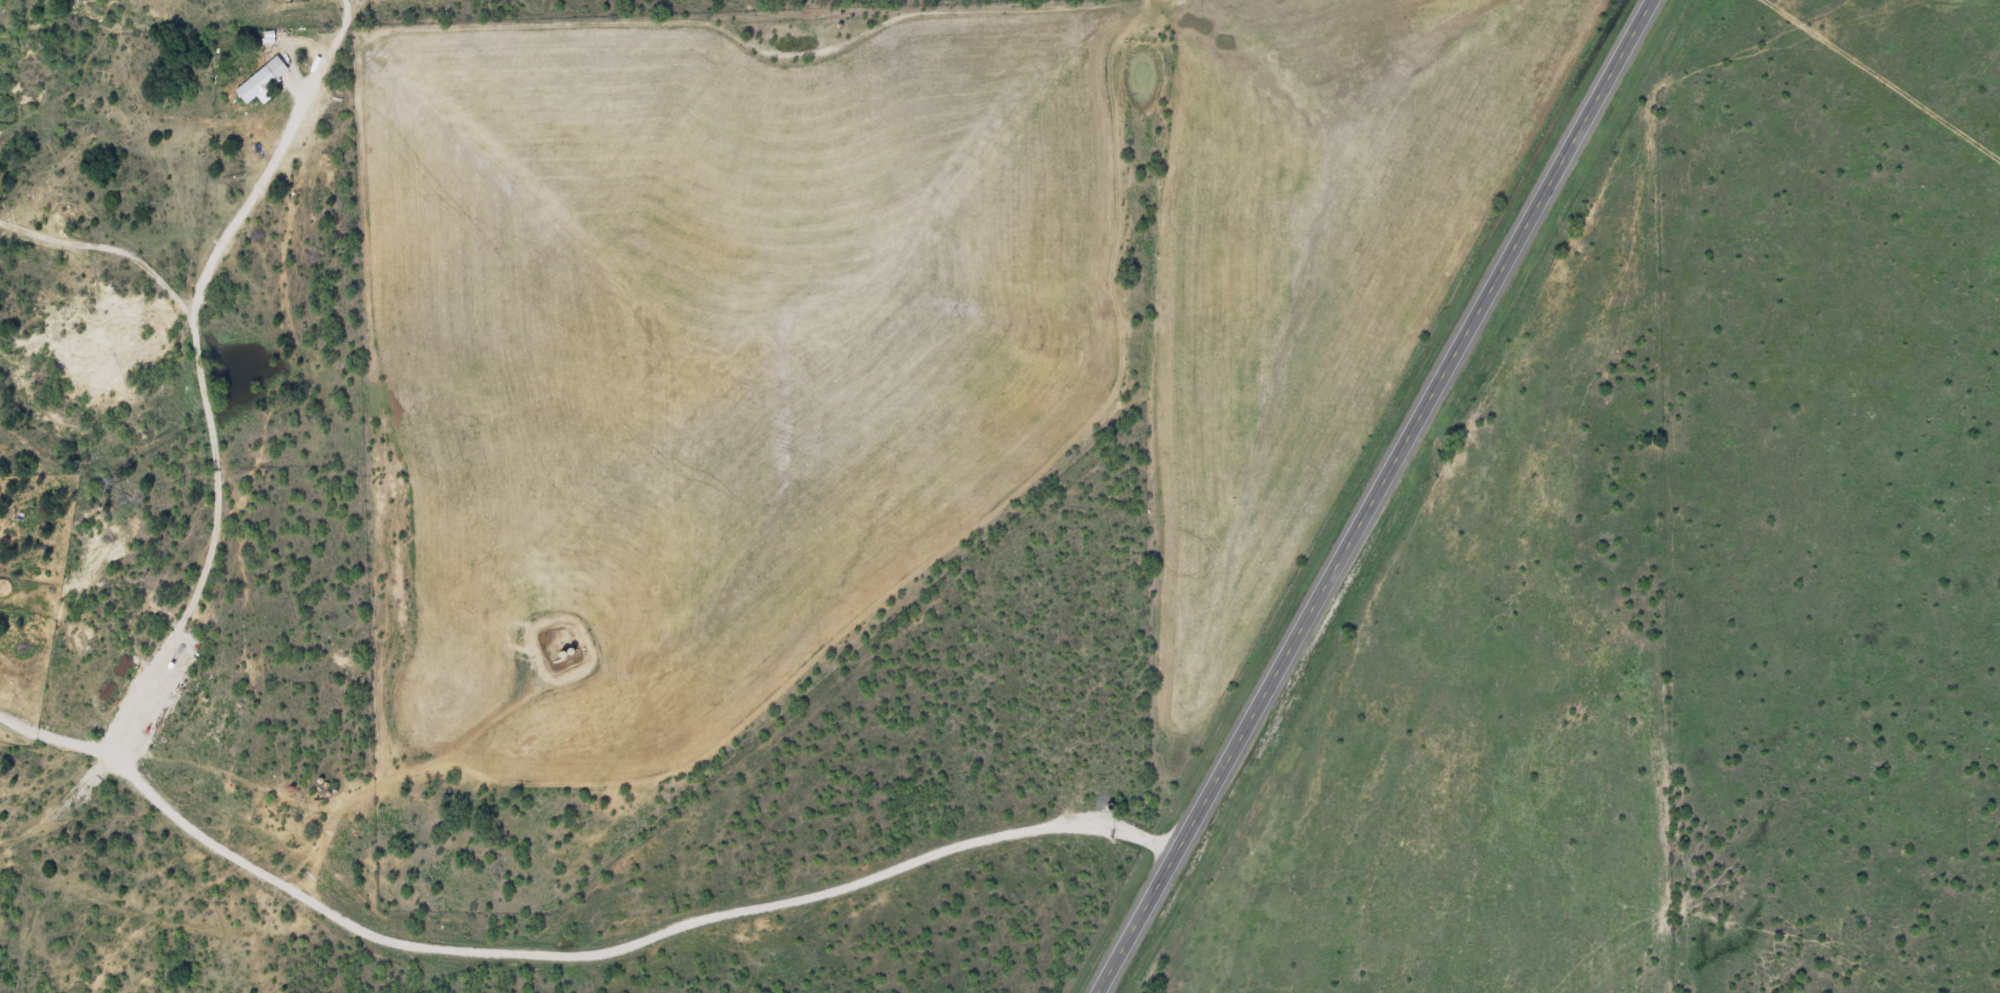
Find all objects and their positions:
road: (241, 46)
road: (1883, 72)
building: (262, 82)
road: (309, 386)
road: (1373, 496)
road: (567, 942)

